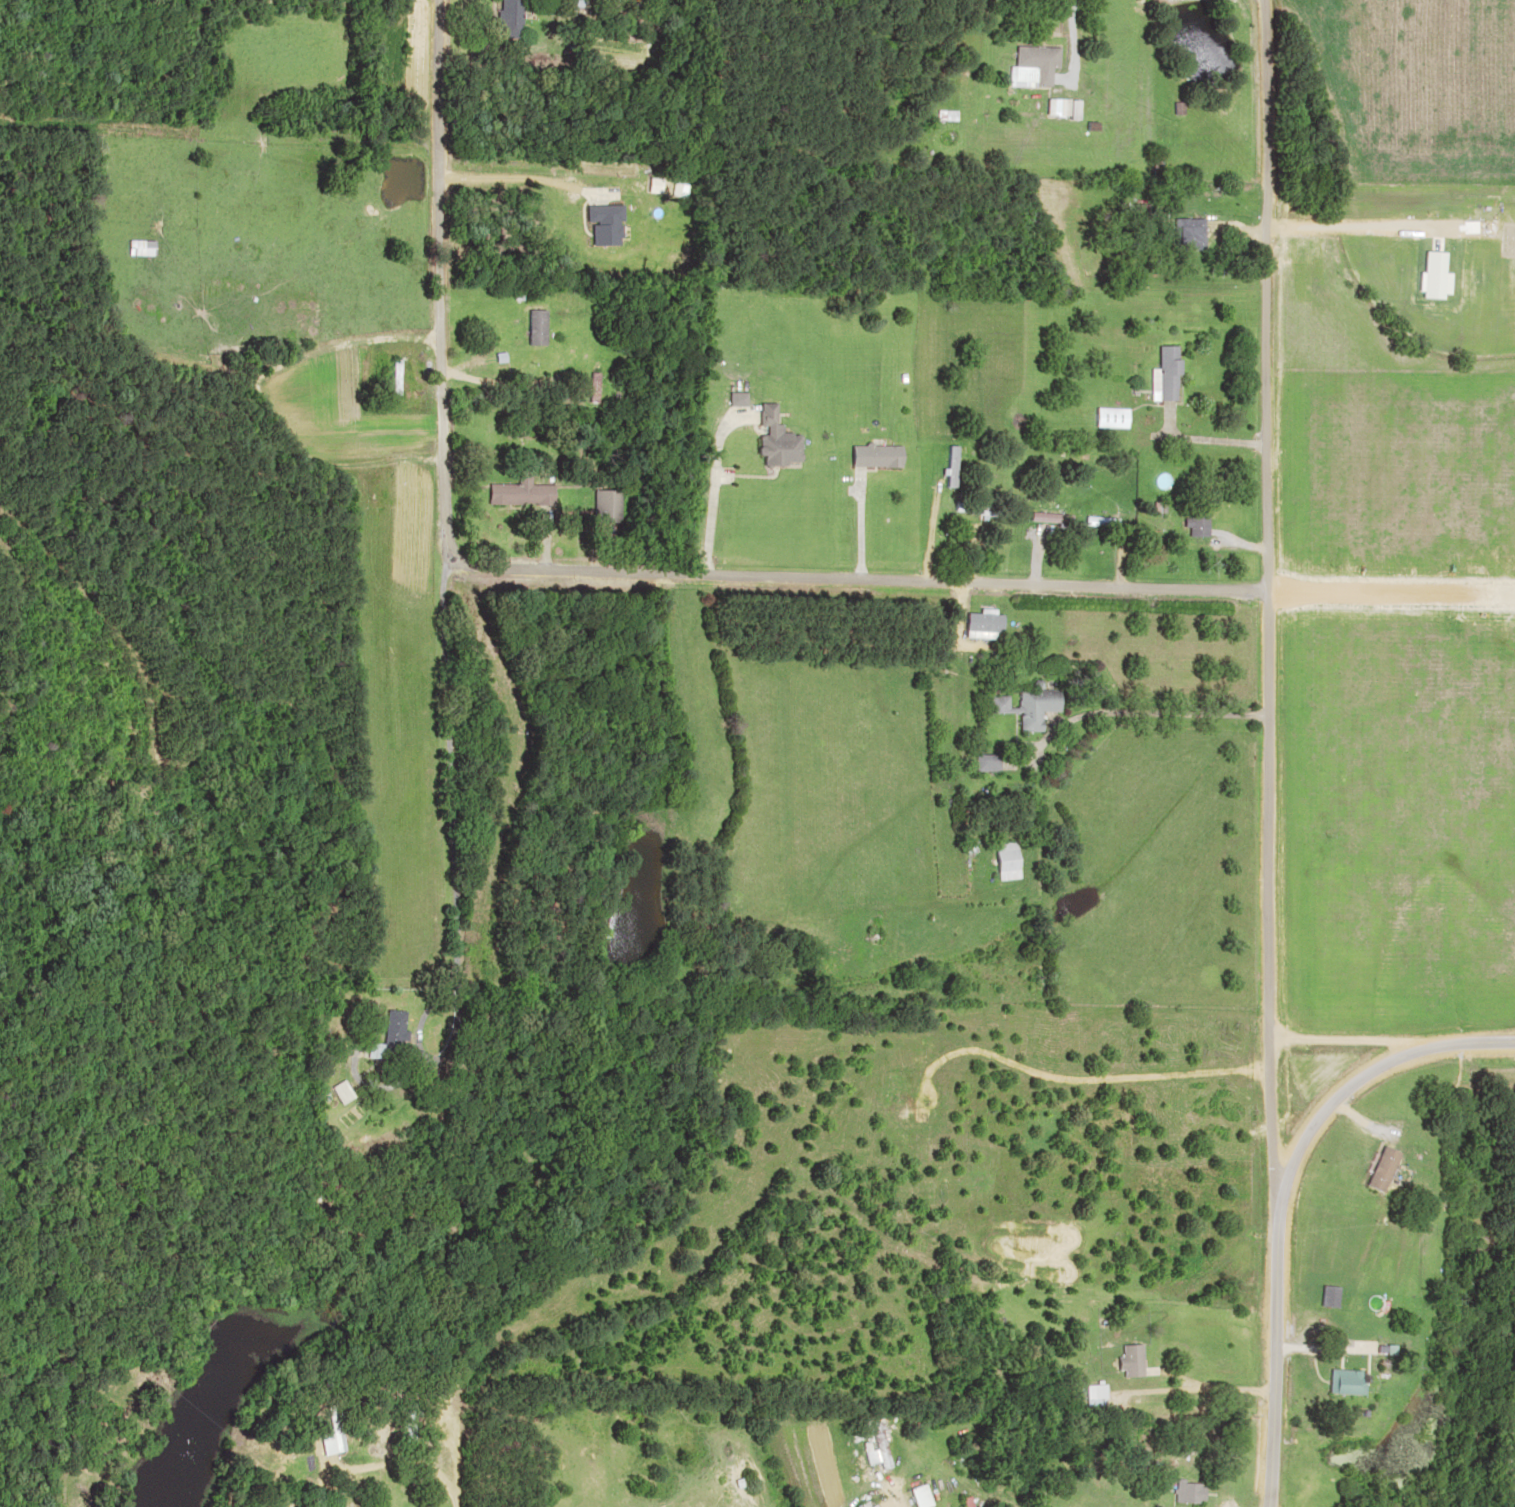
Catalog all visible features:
building: (508, 18)
building: (1035, 62)
building: (1059, 107)
building: (1182, 233)
building: (138, 247)
building: (500, 334)
building: (556, 358)
building: (1161, 373)
building: (391, 377)
building: (1103, 418)
building: (772, 439)
building: (871, 456)
building: (946, 466)
building: (516, 494)
building: (603, 506)
building: (1192, 515)
building: (1044, 518)
road: (1251, 519)
building: (1095, 523)
road: (564, 574)
road: (473, 674)
building: (994, 705)
building: (1032, 707)
building: (981, 763)
building: (1001, 858)
building: (382, 1034)
road: (1390, 1042)
building: (334, 1089)
road: (1352, 1131)
road: (1268, 1269)
building: (1128, 1359)
building: (1339, 1379)
building: (1092, 1393)
building: (406, 1420)
building: (322, 1431)
building: (875, 1448)
building: (1189, 1491)
building: (918, 1495)
building: (868, 1505)

